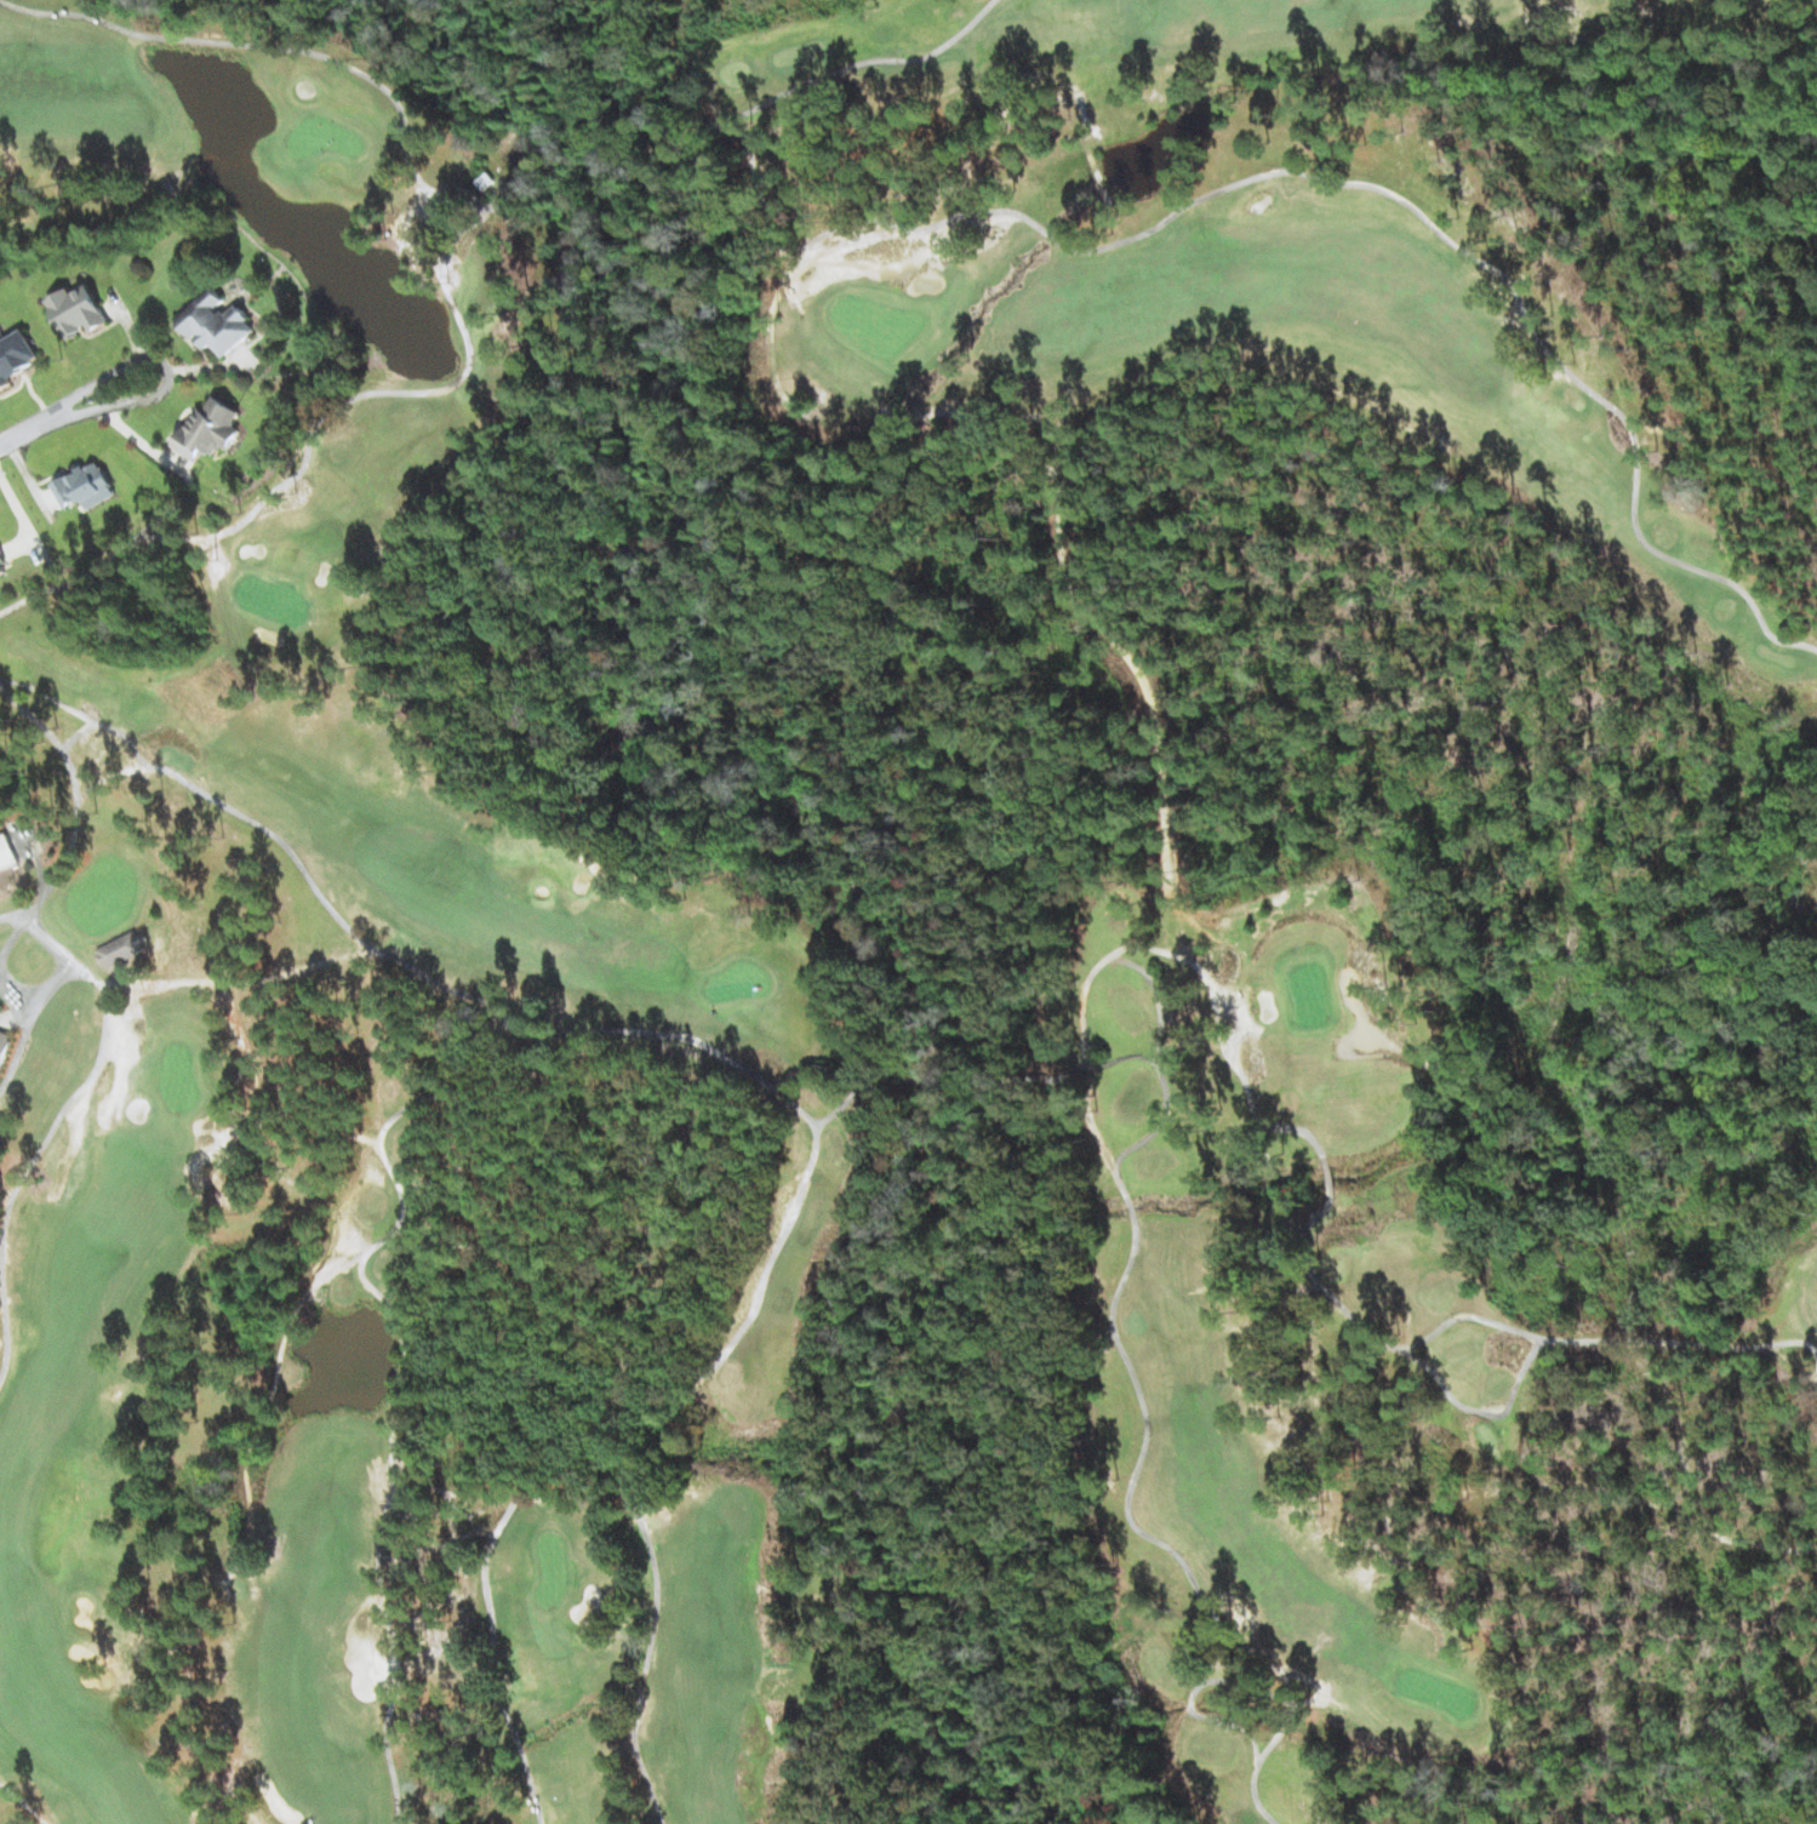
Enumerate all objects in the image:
building: (79, 310)
building: (217, 324)
building: (16, 356)
road: (143, 388)
road: (25, 418)
building: (208, 429)
building: (85, 486)
building: (2, 565)
building: (7, 852)
park: (931, 892)
building: (4, 1046)

